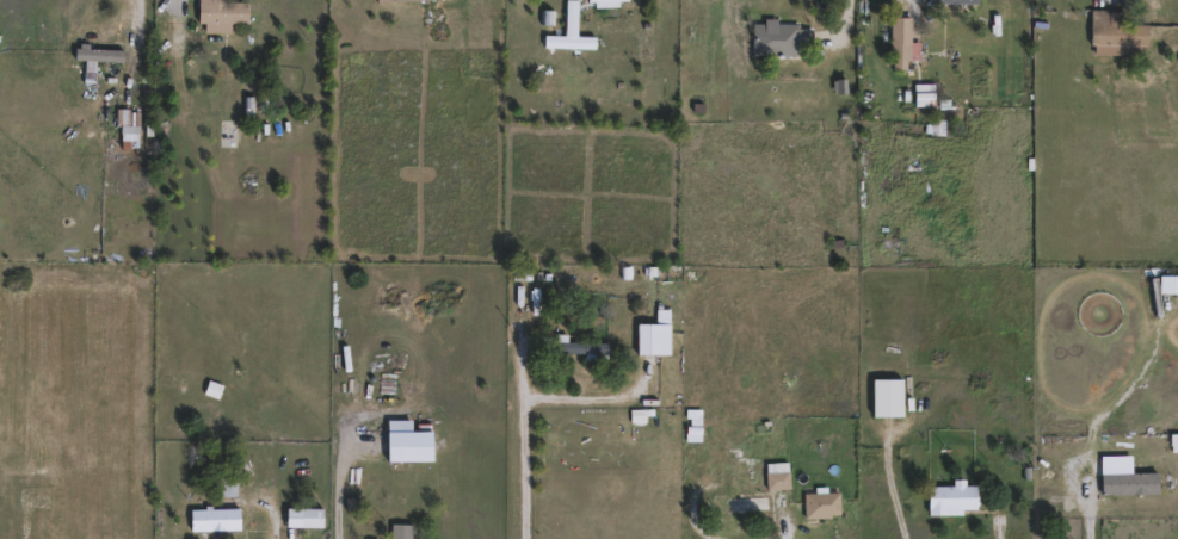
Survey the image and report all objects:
building: (405, 0)
building: (603, 1)
road: (142, 4)
road: (907, 4)
building: (927, 7)
building: (964, 7)
building: (228, 11)
building: (925, 12)
building: (962, 12)
building: (571, 18)
road: (845, 32)
building: (1114, 32)
building: (782, 38)
building: (899, 42)
building: (101, 52)
building: (923, 89)
building: (660, 333)
building: (588, 348)
building: (886, 396)
building: (1000, 410)
building: (1173, 441)
road: (534, 451)
building: (776, 475)
building: (1128, 482)
building: (946, 497)
road: (328, 501)
building: (821, 504)
road: (1077, 513)
road: (280, 514)
building: (218, 518)
road: (788, 522)
building: (406, 531)
road: (378, 538)

